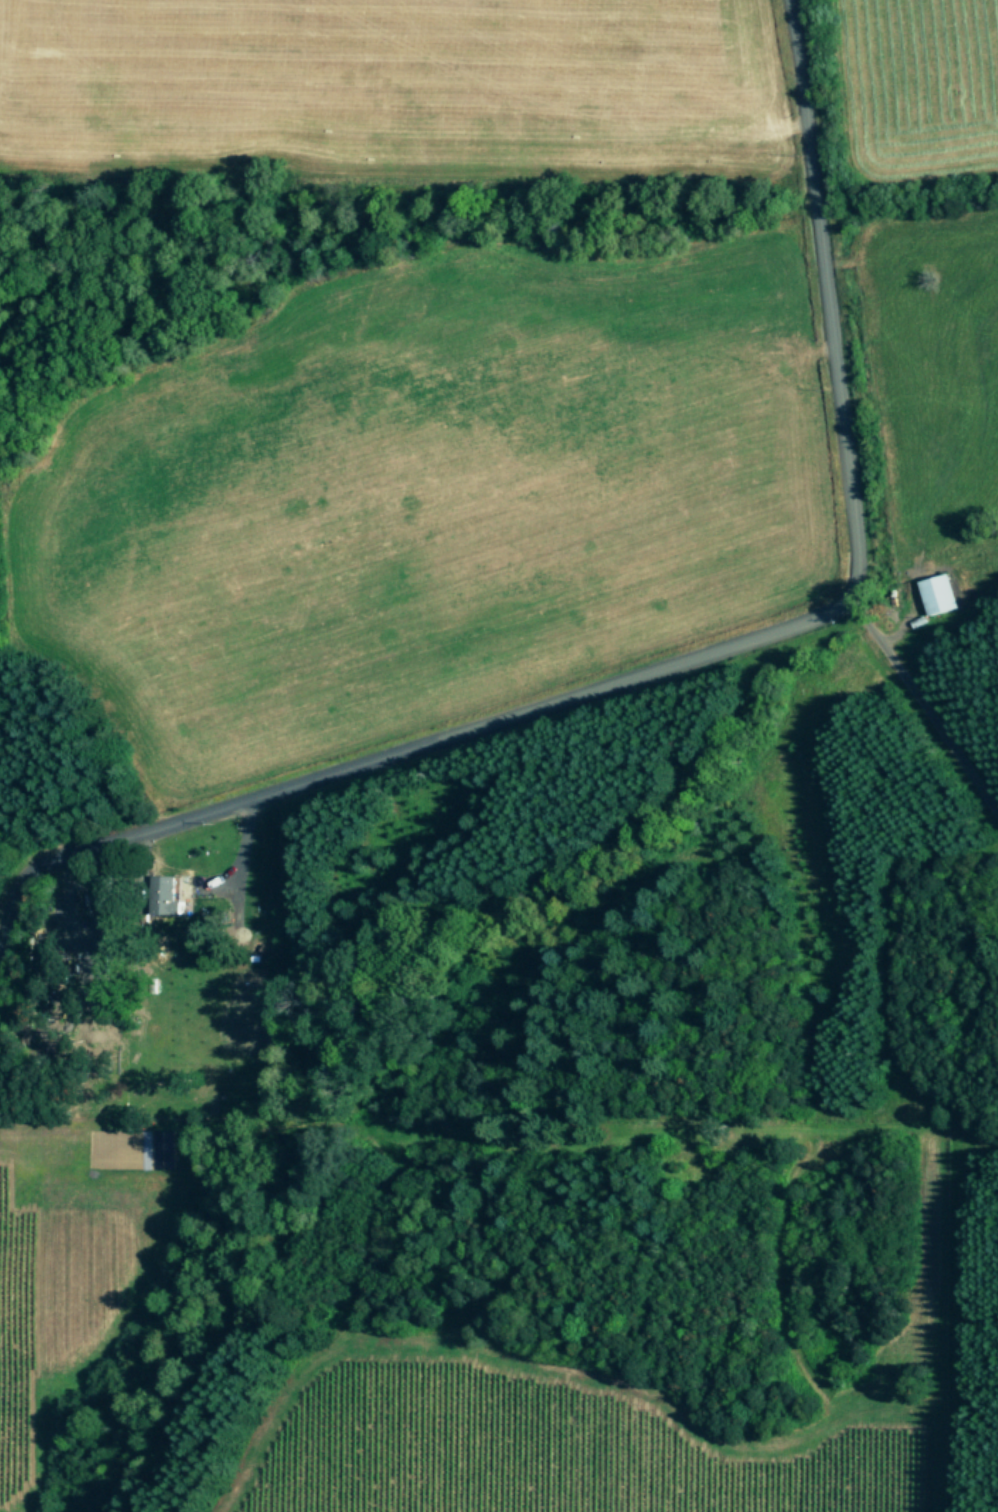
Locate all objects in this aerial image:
building: (939, 593)
road: (685, 657)
road: (922, 708)
building: (170, 895)

